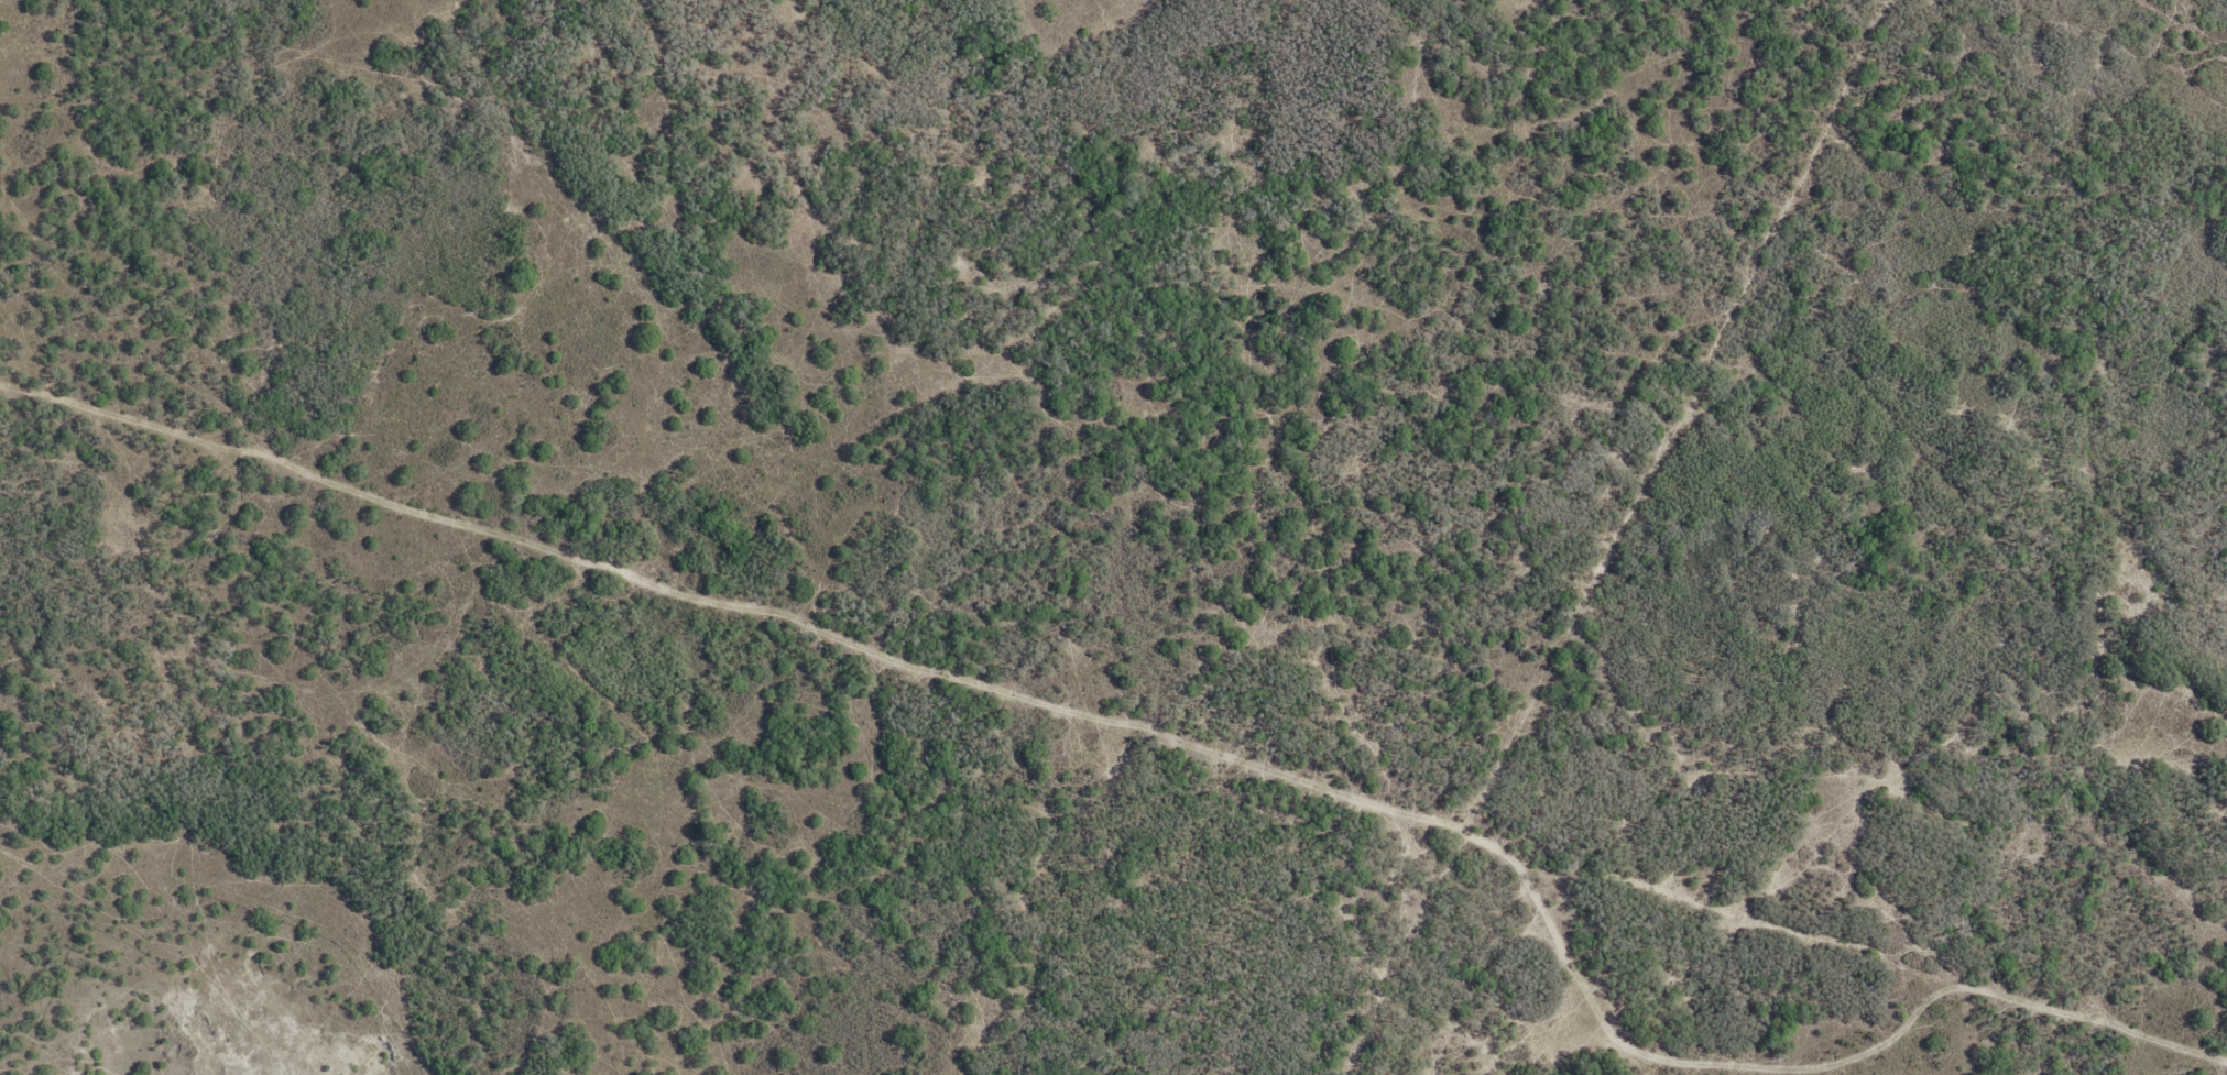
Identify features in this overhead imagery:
road: (2060, 472)

